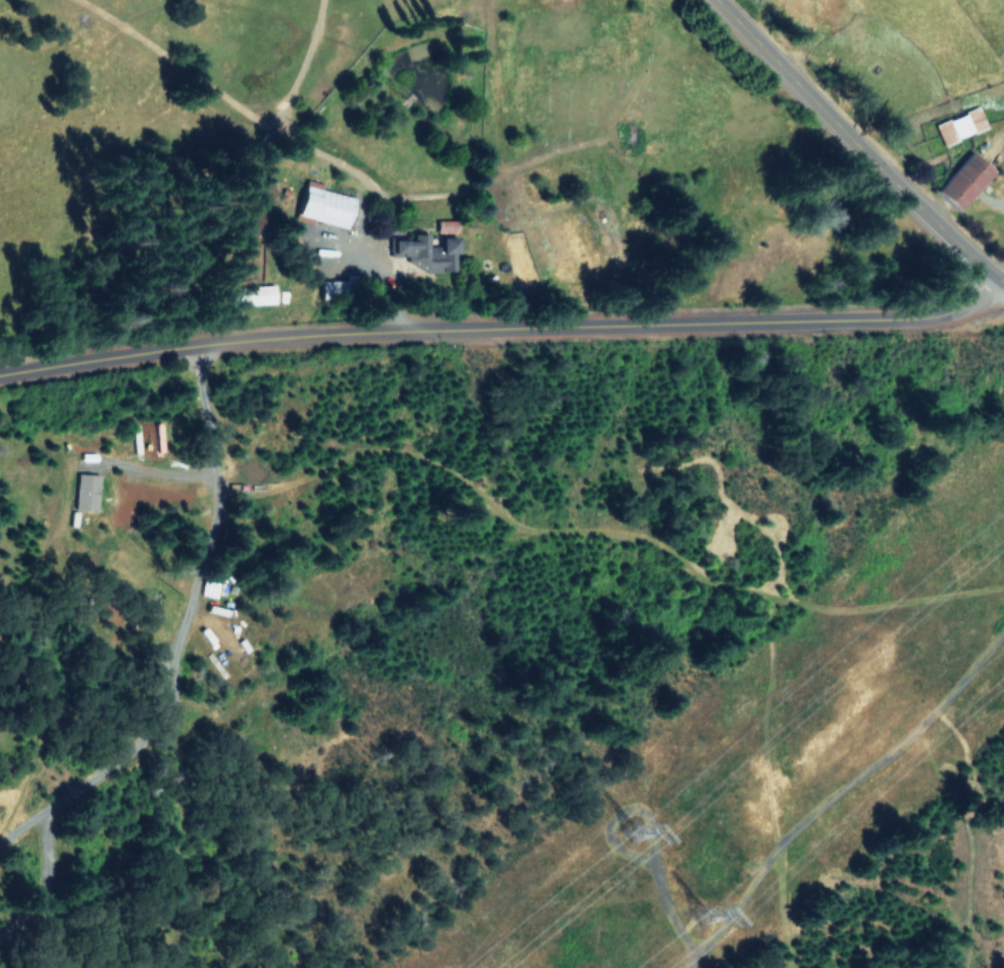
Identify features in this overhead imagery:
crop: (933, 75)
building: (961, 125)
road: (858, 144)
building: (966, 179)
building: (325, 206)
building: (424, 251)
building: (335, 287)
building: (254, 294)
road: (503, 333)
road: (213, 469)
building: (86, 491)
road: (839, 795)
power tower: (641, 828)
power tower: (714, 913)

